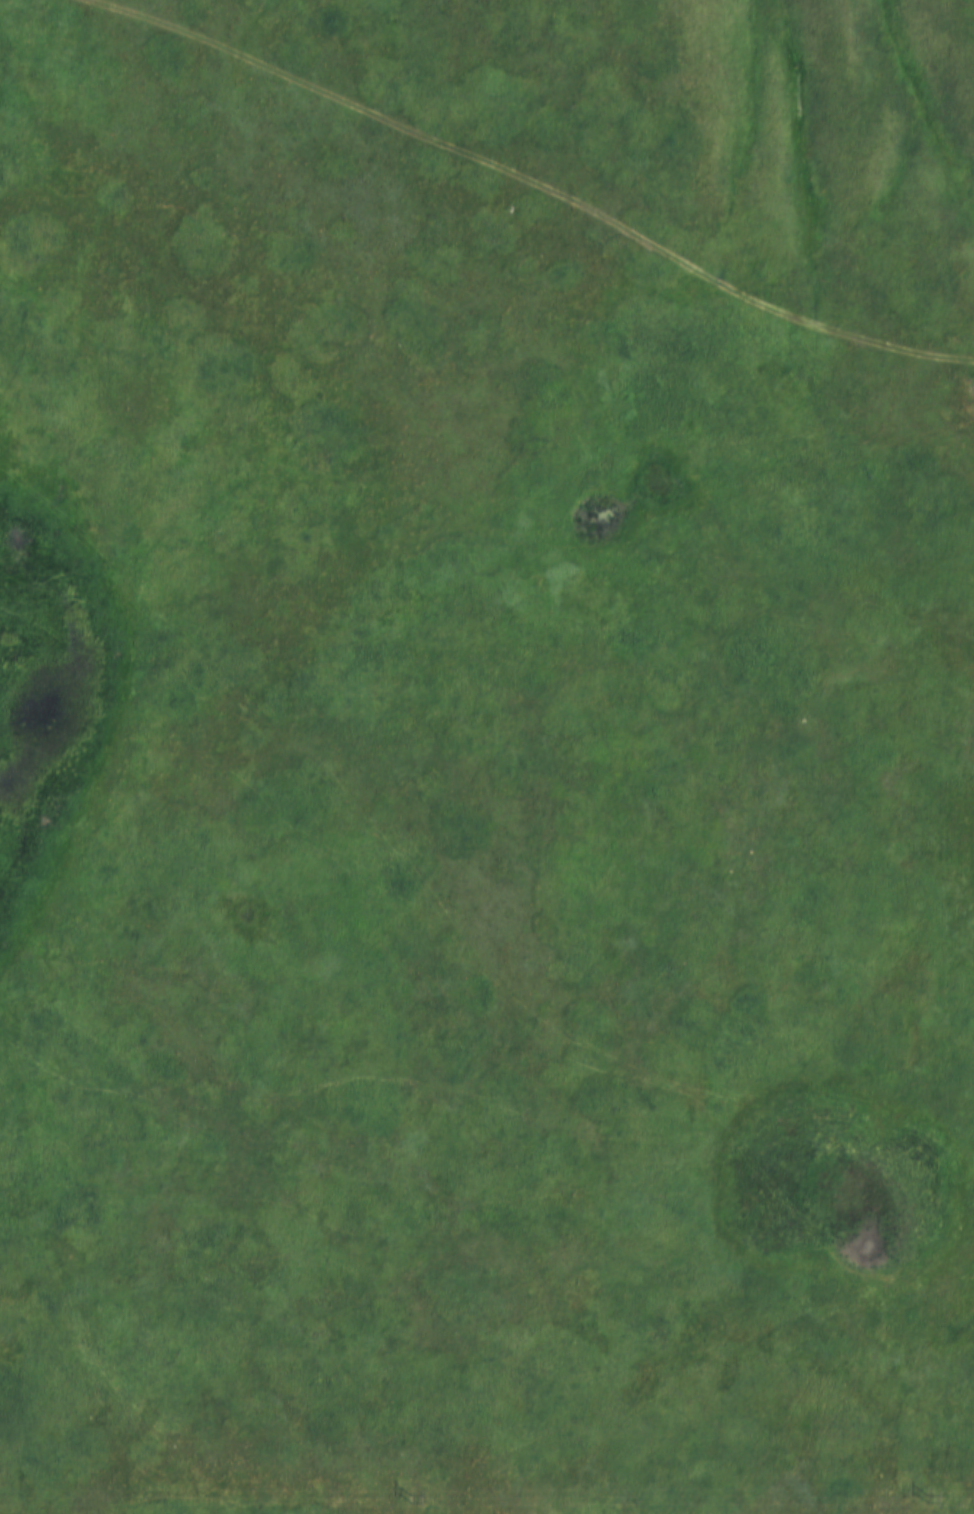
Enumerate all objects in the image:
power tower: (925, 1500)
power tower: (409, 1503)

